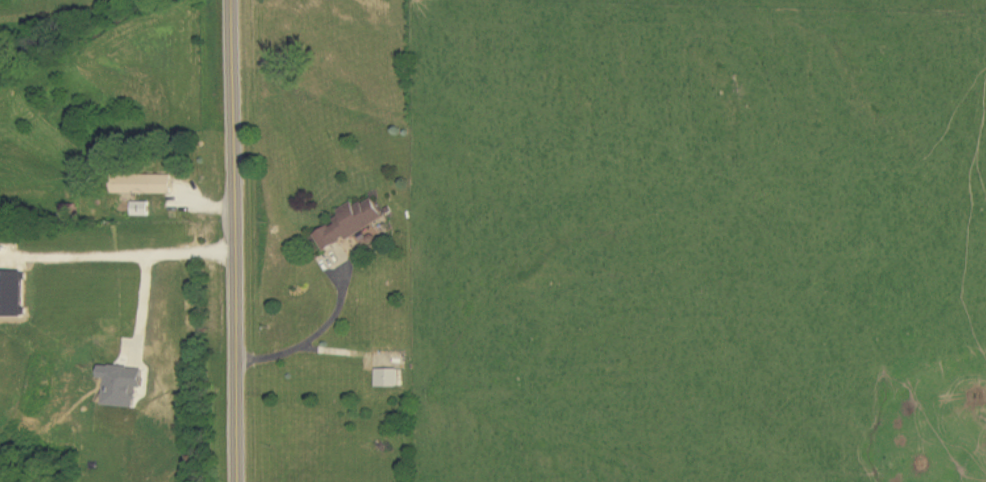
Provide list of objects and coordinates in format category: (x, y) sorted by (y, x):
building: (144, 185)
building: (142, 209)
building: (352, 223)
road: (231, 241)
road: (116, 258)
building: (12, 294)
road: (143, 311)
road: (316, 335)
building: (388, 378)
building: (123, 385)

